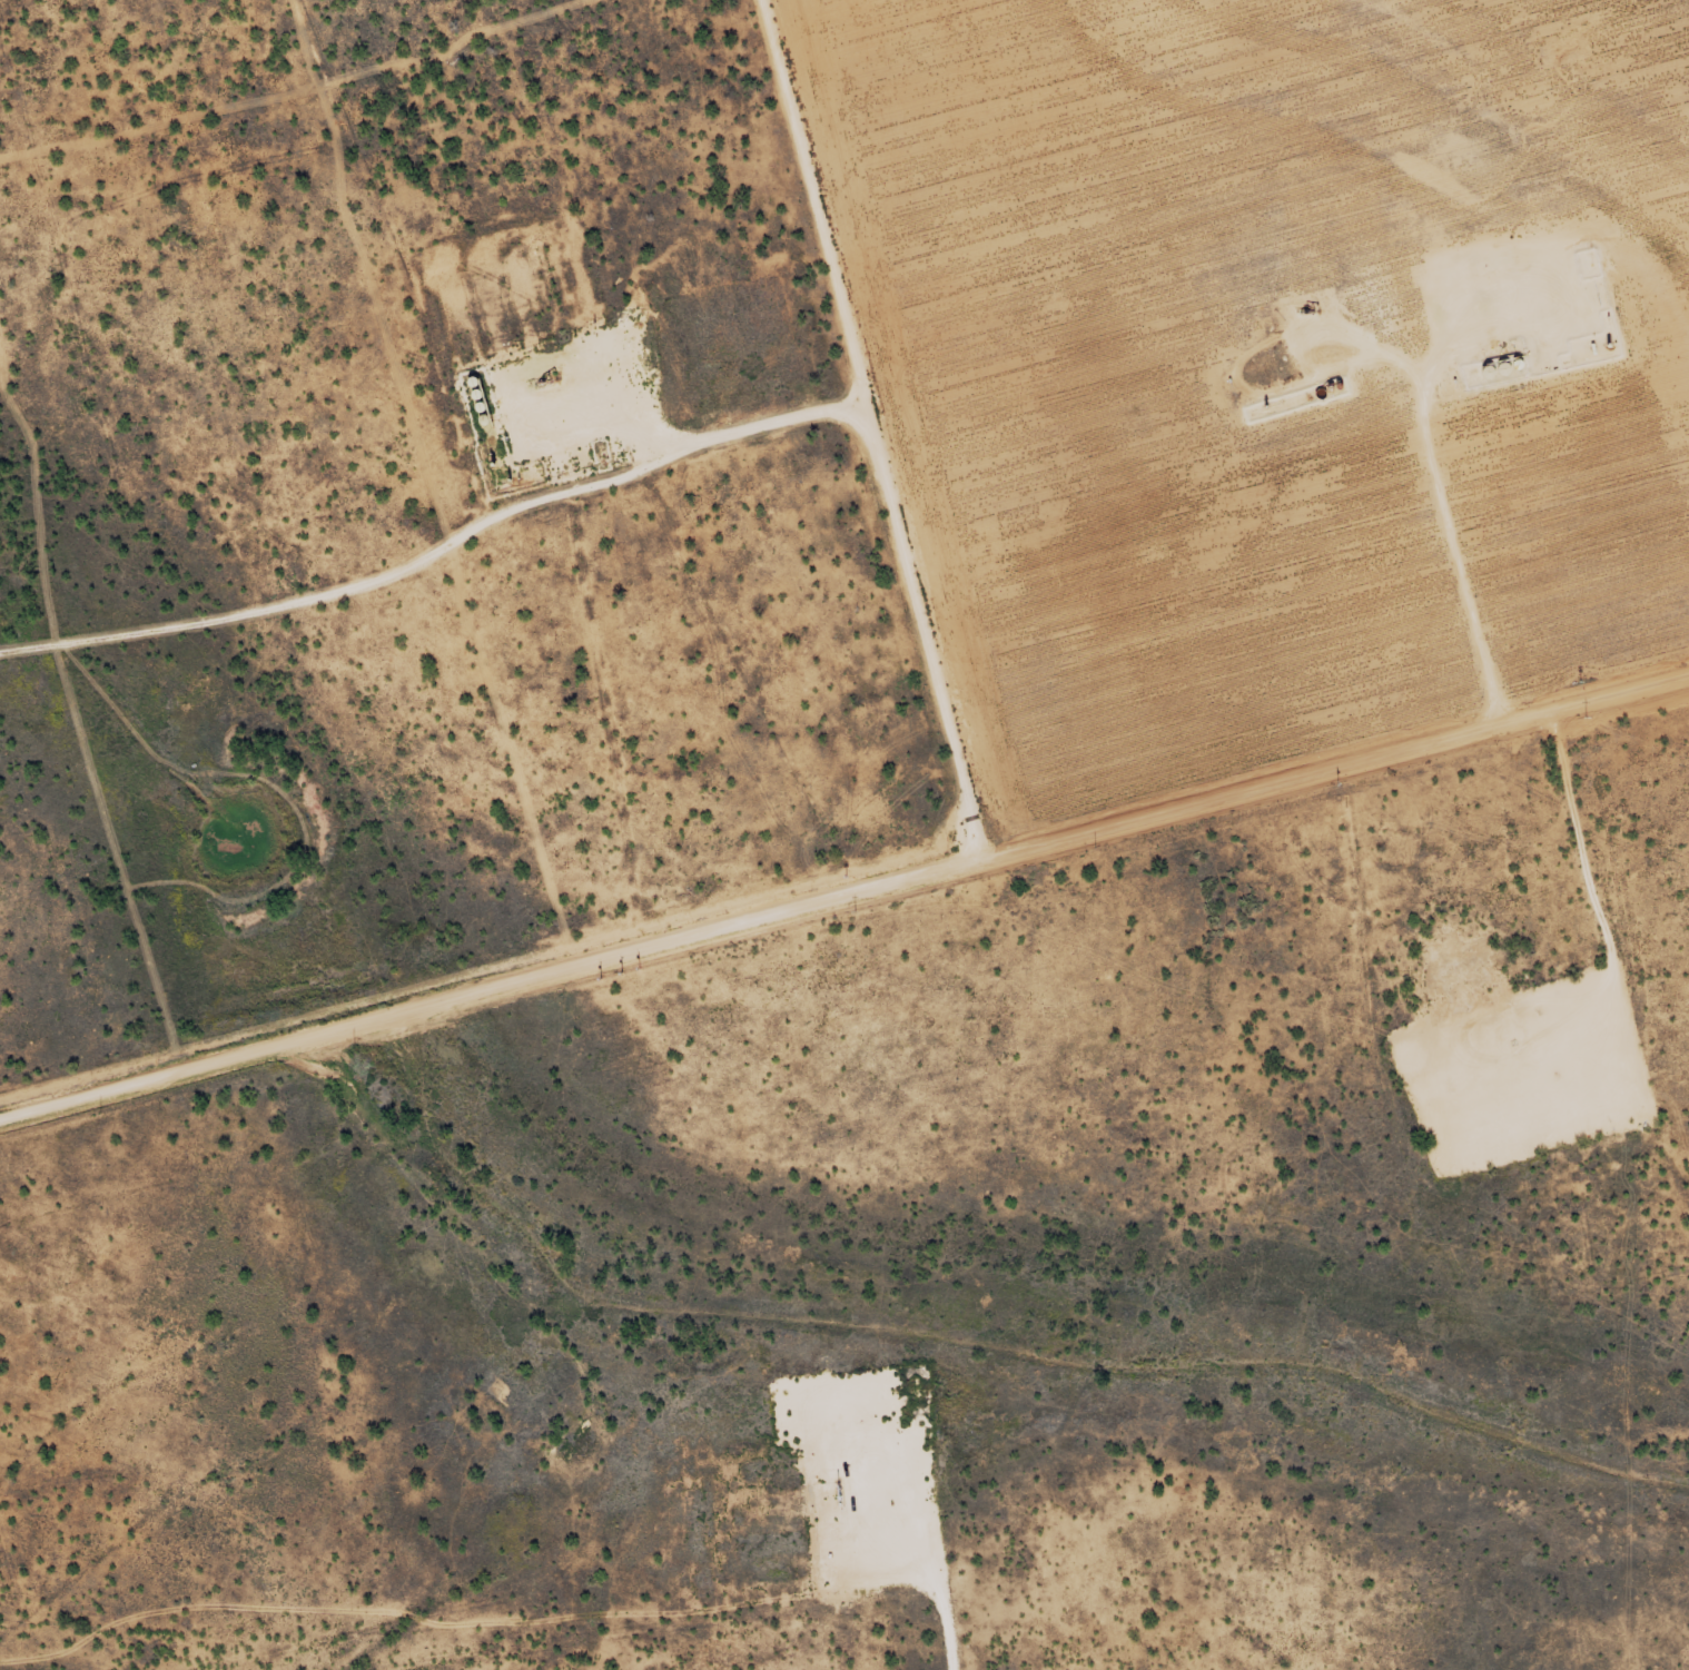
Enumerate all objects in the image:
road: (911, 530)
road: (842, 897)

